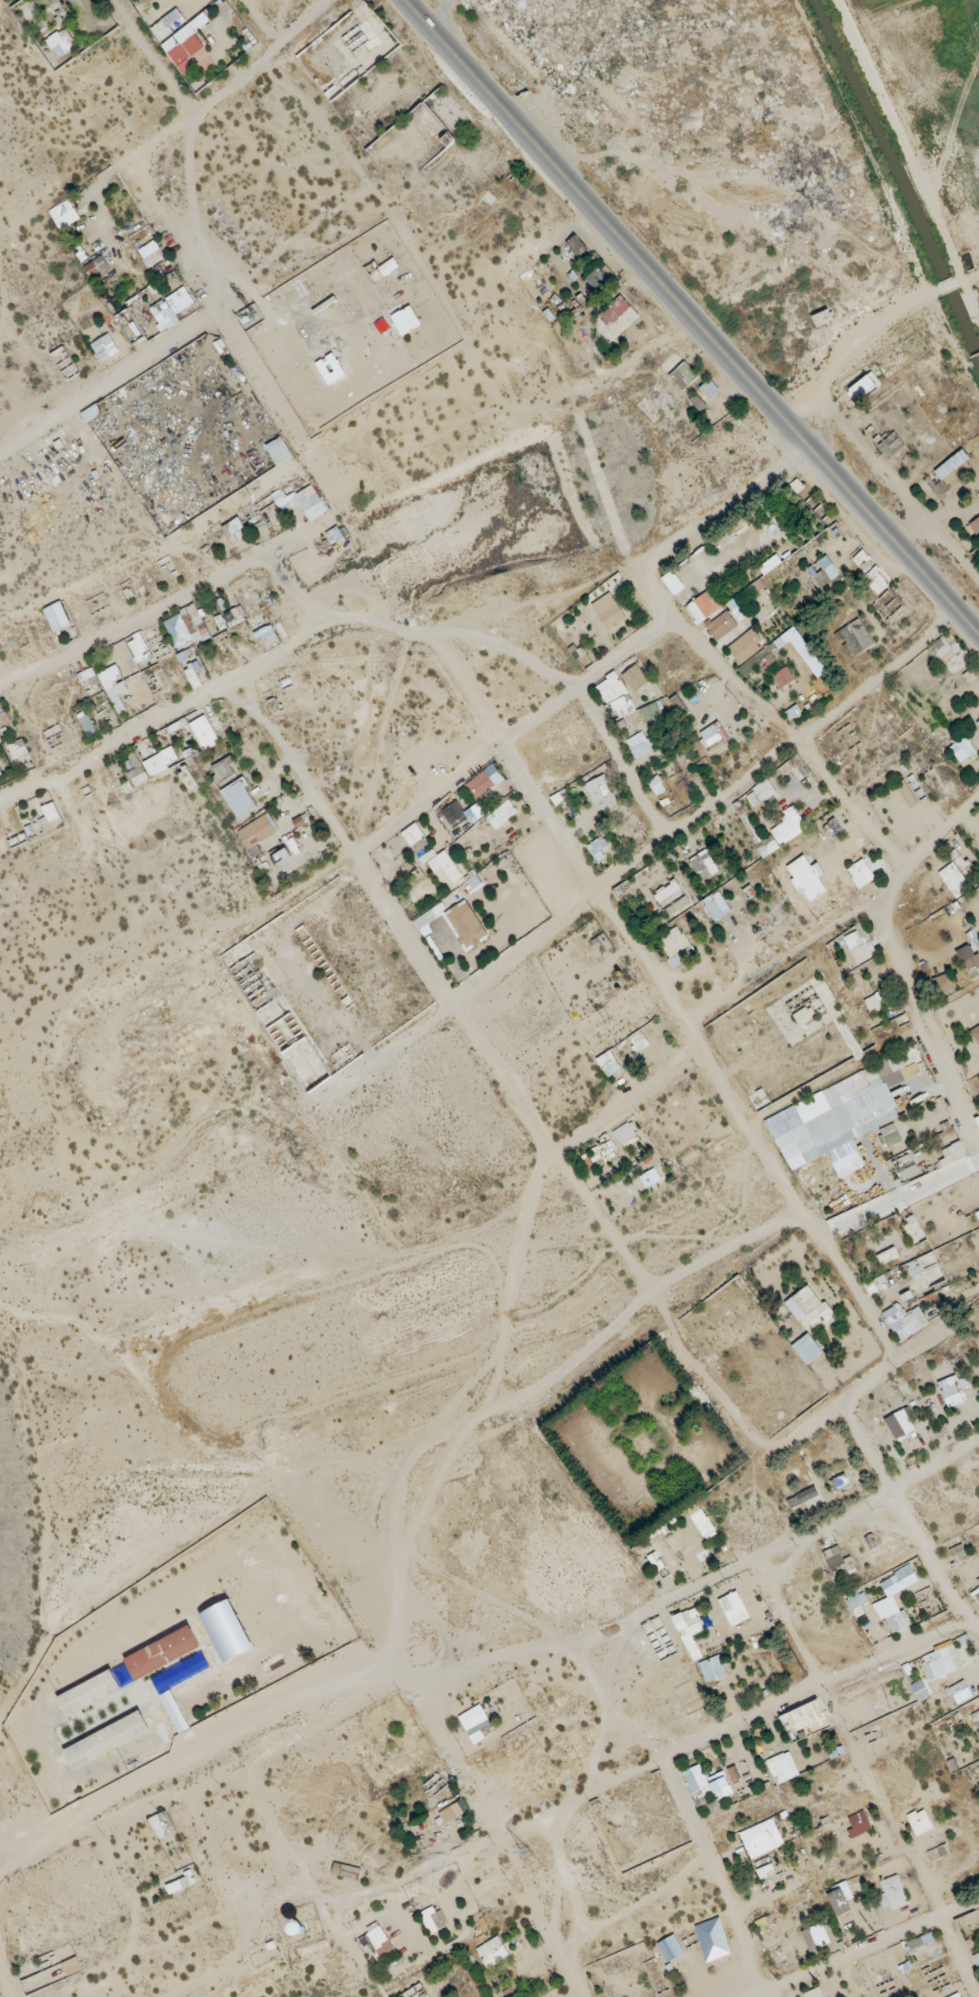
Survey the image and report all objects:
power tower: (522, 1849)
water tower: (292, 1919)

